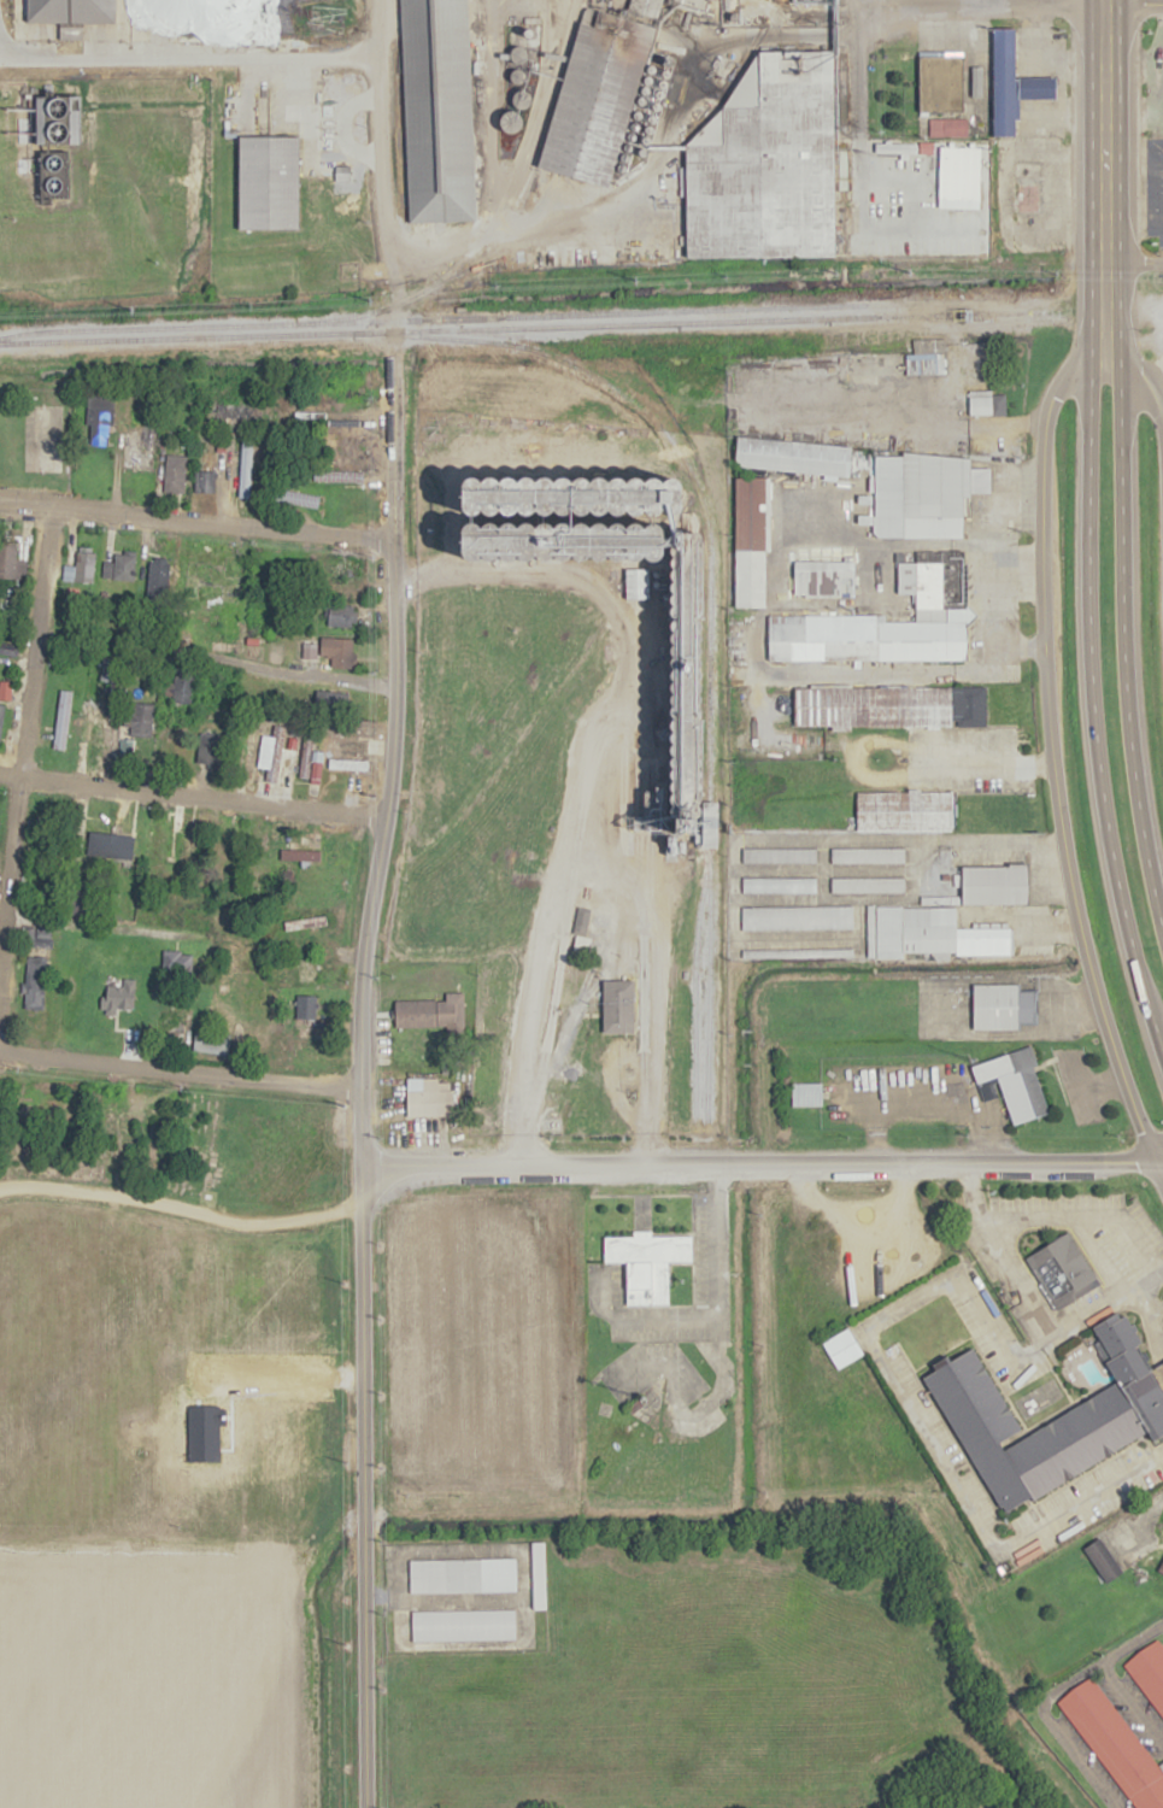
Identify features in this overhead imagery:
road: (1008, 2)
building: (71, 11)
building: (189, 11)
road: (187, 52)
road: (854, 61)
building: (940, 81)
building: (1012, 82)
building: (599, 95)
building: (439, 112)
building: (52, 143)
road: (1103, 164)
building: (769, 168)
building: (269, 183)
building: (1030, 187)
road: (1133, 262)
railway: (1094, 305)
railway: (512, 324)
building: (895, 360)
building: (236, 411)
building: (98, 419)
building: (143, 450)
building: (793, 454)
building: (243, 468)
building: (174, 474)
building: (336, 476)
building: (204, 481)
building: (924, 493)
building: (289, 497)
road: (194, 523)
building: (750, 541)
road: (1039, 556)
building: (11, 562)
building: (211, 564)
building: (119, 565)
building: (81, 567)
building: (346, 568)
building: (157, 575)
building: (824, 579)
building: (341, 615)
road: (623, 623)
building: (885, 623)
building: (7, 650)
building: (341, 652)
road: (1121, 653)
building: (691, 673)
building: (182, 687)
building: (5, 688)
building: (330, 699)
building: (889, 706)
road: (1091, 708)
building: (111, 709)
building: (1, 714)
road: (23, 717)
building: (61, 720)
building: (139, 721)
building: (101, 740)
building: (348, 749)
building: (275, 752)
building: (305, 758)
building: (347, 763)
road: (188, 798)
building: (904, 811)
building: (92, 828)
building: (192, 840)
building: (299, 855)
building: (777, 855)
building: (867, 855)
road: (591, 874)
building: (777, 884)
building: (867, 884)
building: (995, 885)
building: (938, 900)
road: (366, 903)
building: (795, 917)
road: (90, 923)
building: (929, 933)
building: (35, 937)
building: (797, 952)
building: (176, 961)
building: (306, 969)
building: (34, 982)
building: (1002, 1005)
building: (304, 1006)
building: (618, 1006)
building: (428, 1012)
building: (171, 1025)
building: (210, 1043)
road: (178, 1074)
building: (1012, 1082)
building: (806, 1093)
building: (429, 1102)
road: (759, 1166)
road: (182, 1207)
building: (647, 1263)
building: (1062, 1270)
road: (710, 1284)
road: (1030, 1304)
road: (1149, 1321)
building: (842, 1348)
road: (906, 1405)
building: (1118, 1407)
building: (1100, 1558)
building: (1161, 1566)
building: (462, 1574)
building: (538, 1574)
building: (463, 1624)
road: (1097, 1665)
building: (1149, 1673)
road: (1130, 1707)
building: (1114, 1744)
road: (1077, 1759)
road: (1162, 1768)

